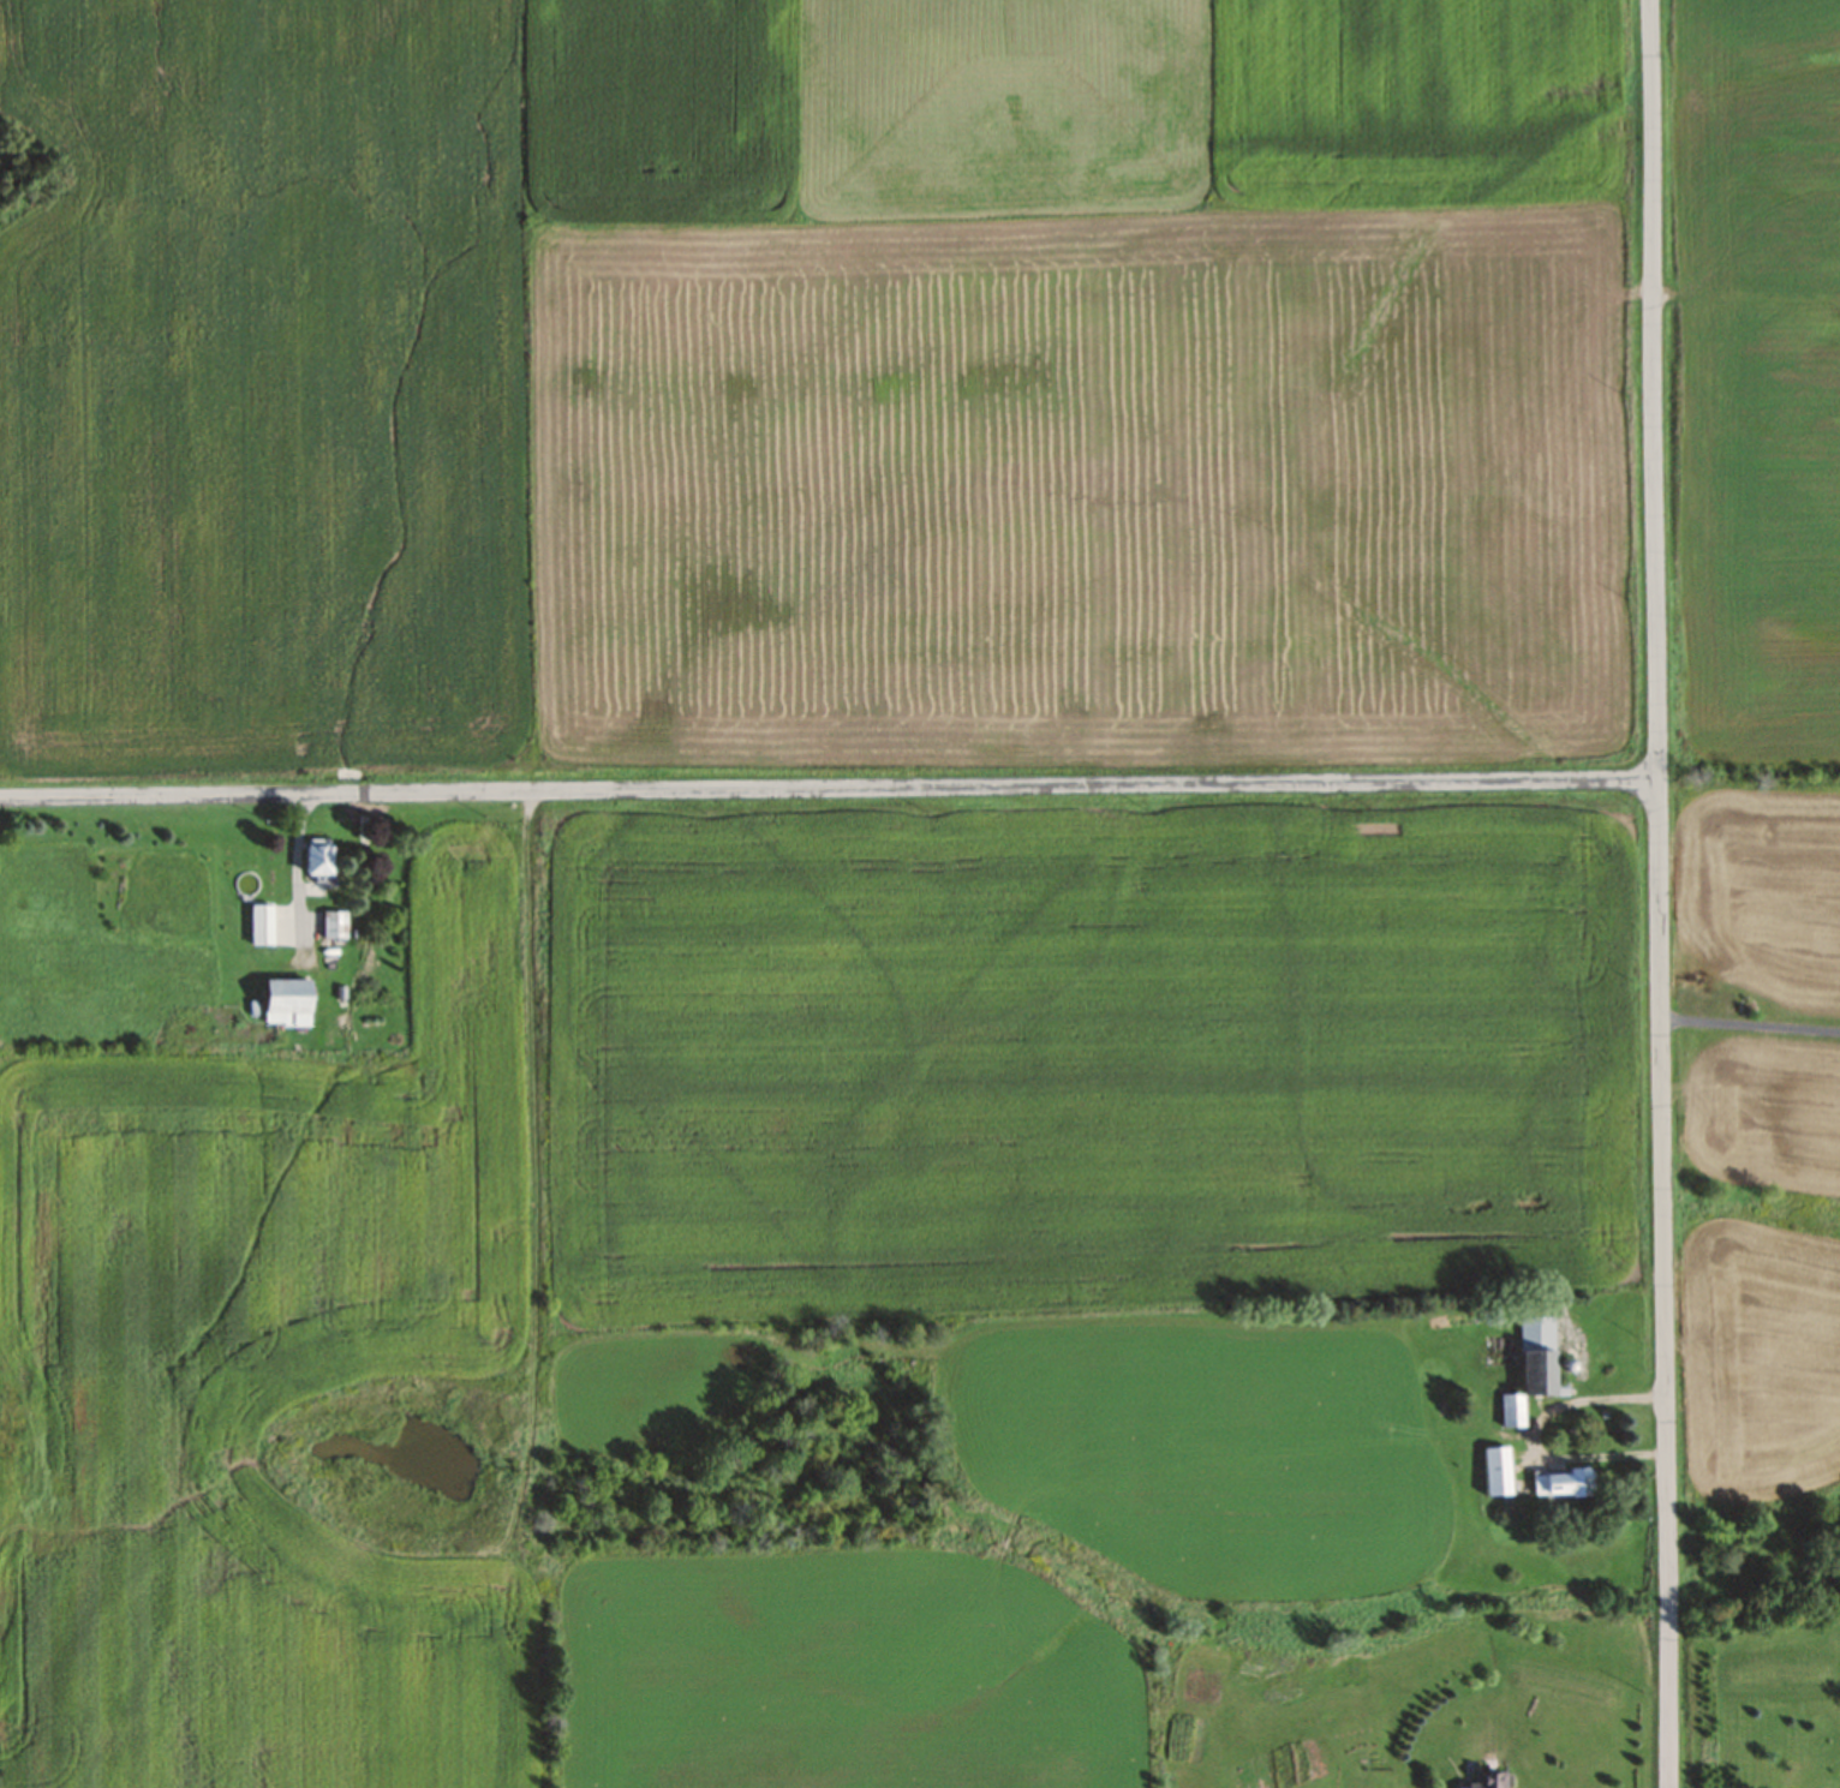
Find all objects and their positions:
road: (829, 788)
building: (318, 856)
road: (1660, 893)
building: (262, 923)
building: (288, 1003)
road: (1751, 1023)
building: (1533, 1368)
building: (1497, 1471)
building: (1559, 1482)
building: (1487, 1781)

